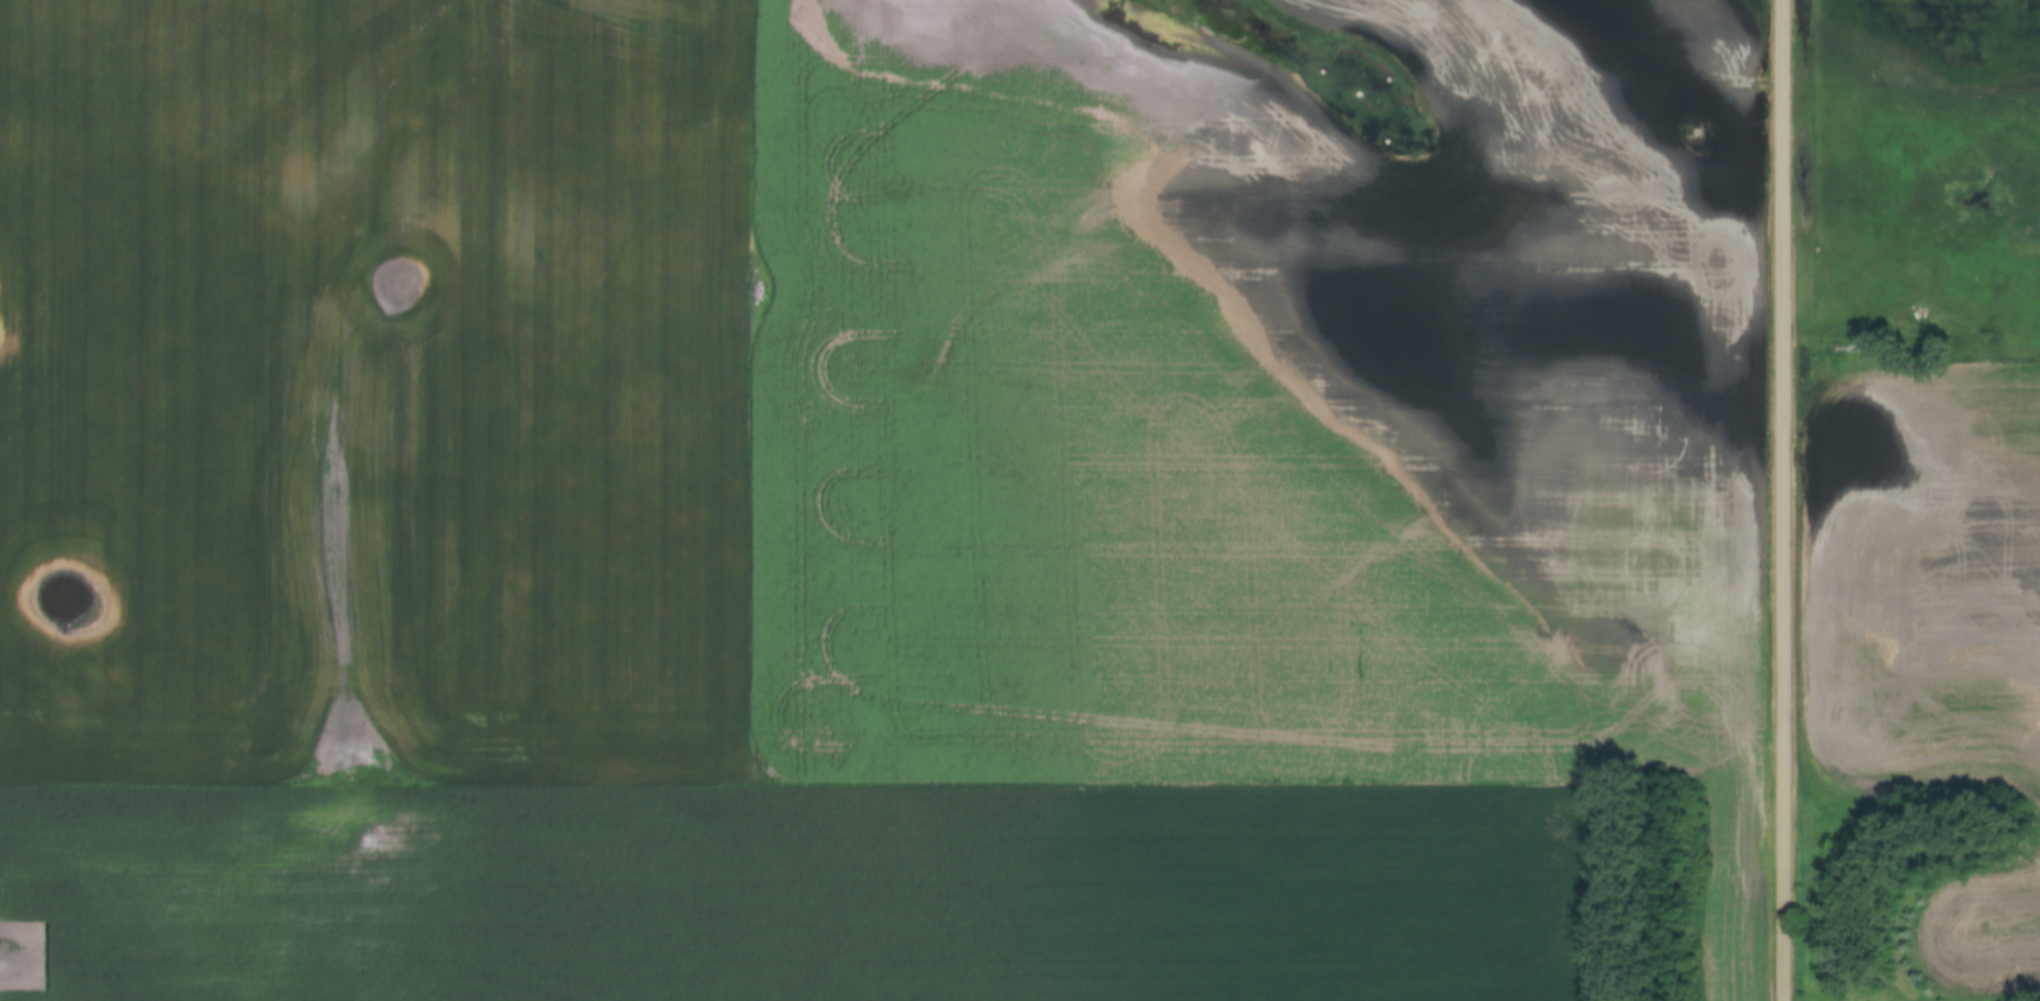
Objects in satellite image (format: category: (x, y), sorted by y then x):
road: (1780, 500)

